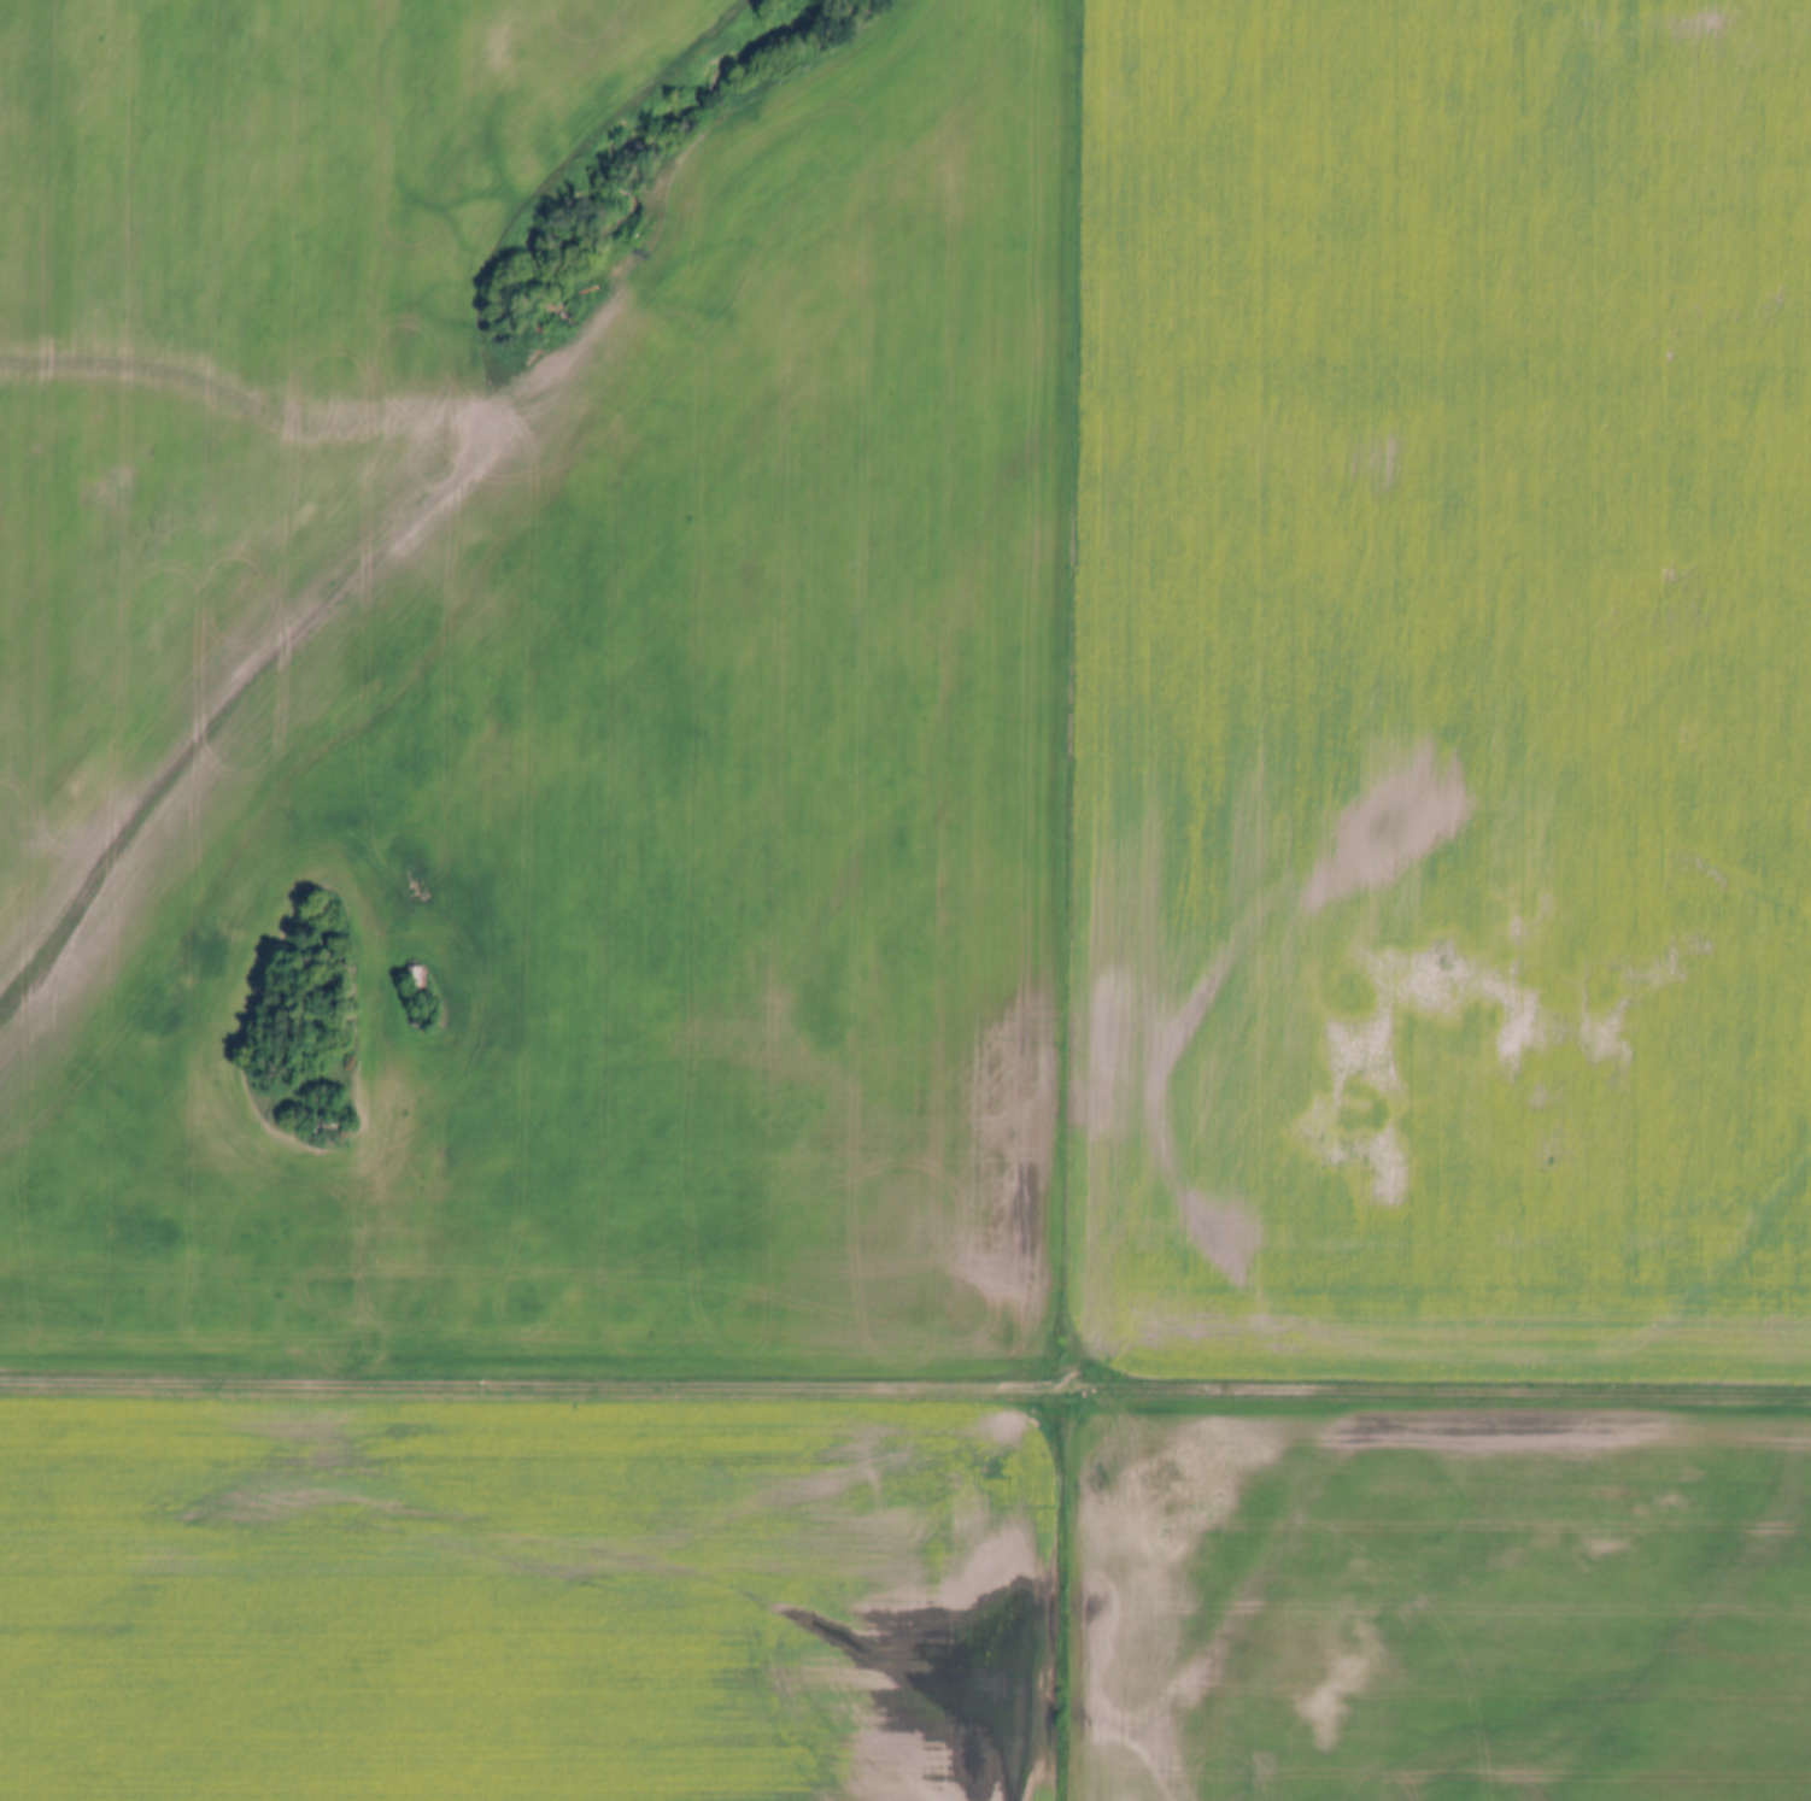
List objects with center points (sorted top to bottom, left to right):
road: (904, 1381)

